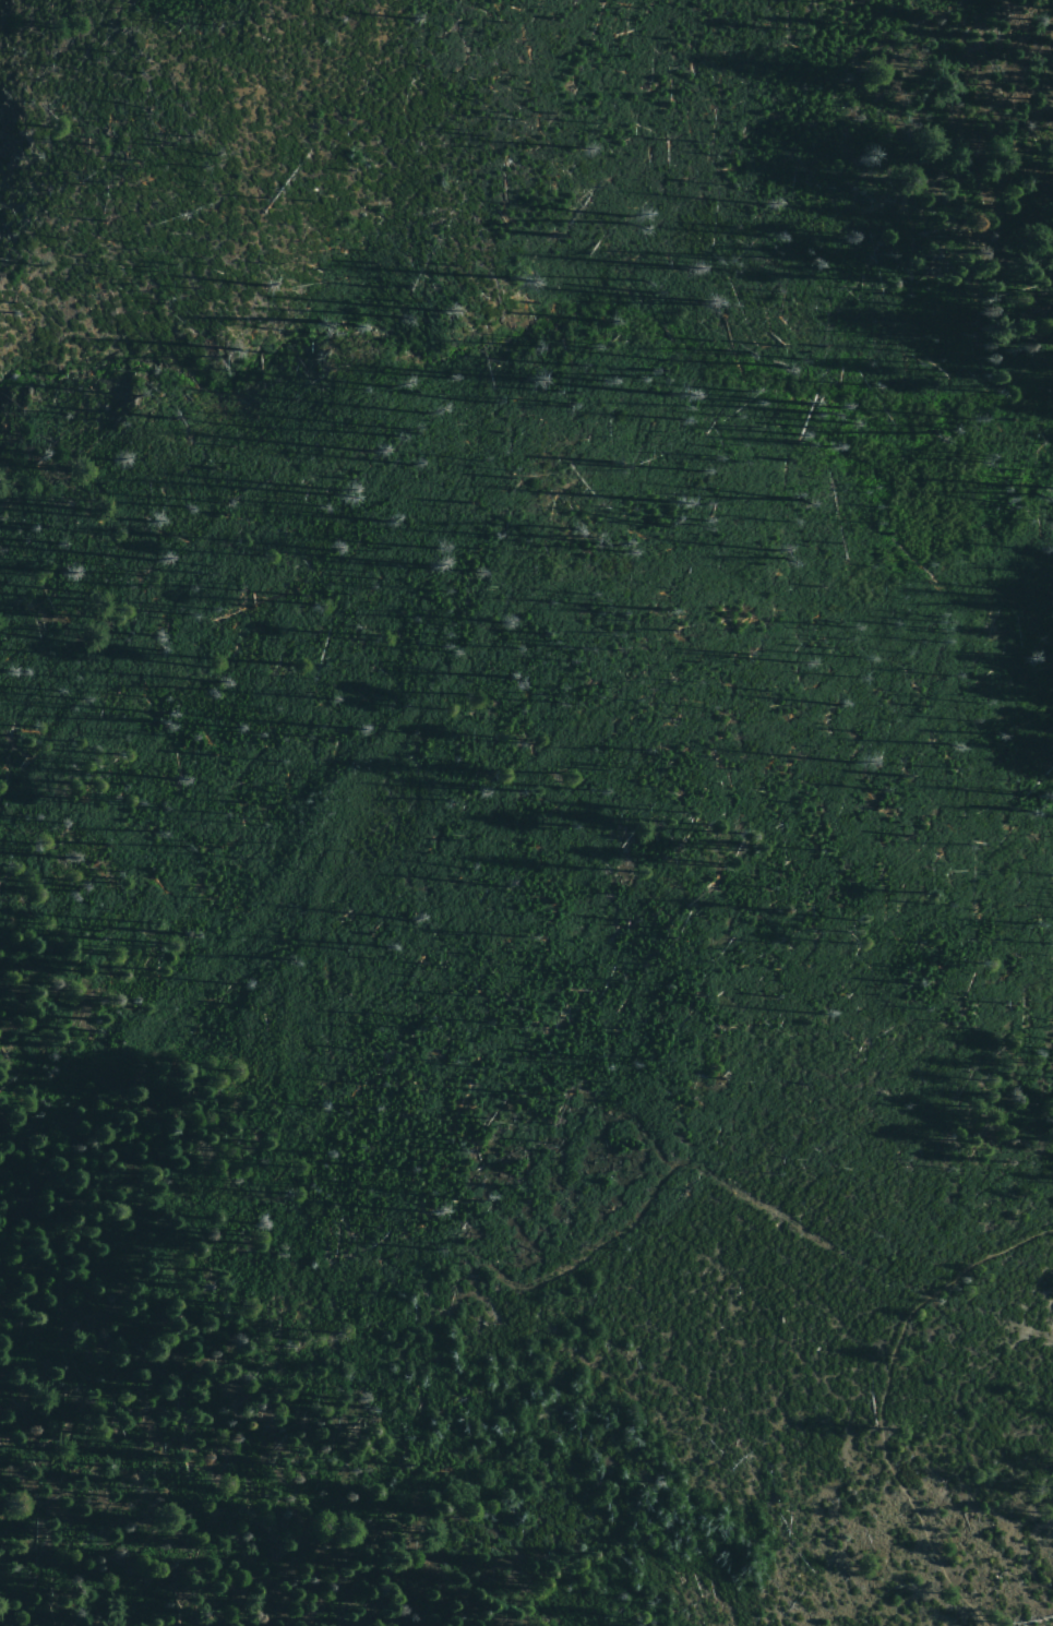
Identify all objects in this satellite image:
road: (884, 1398)

